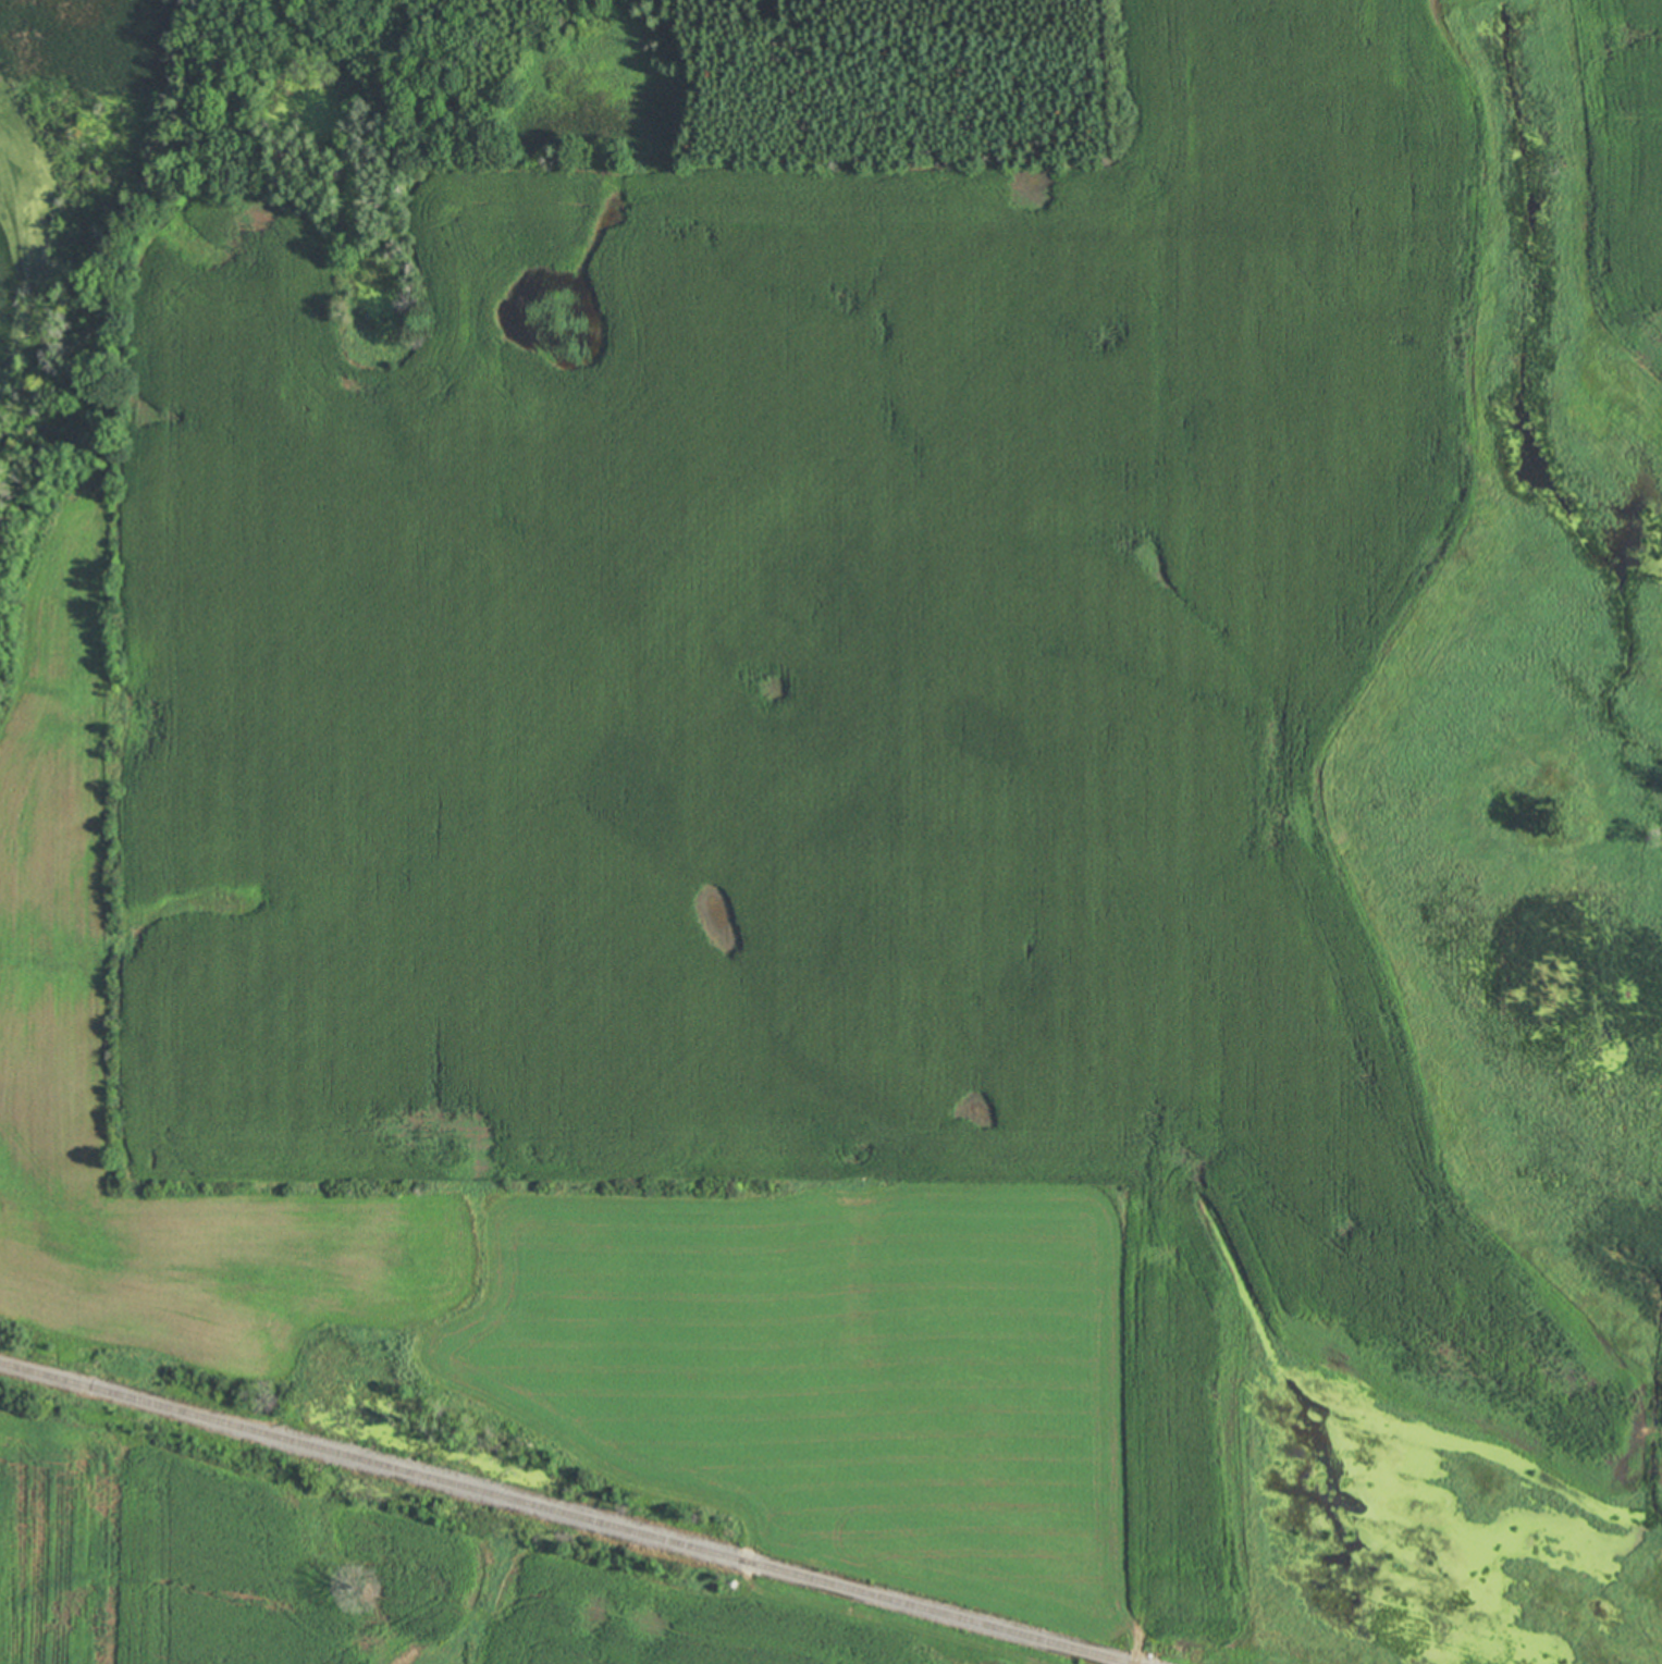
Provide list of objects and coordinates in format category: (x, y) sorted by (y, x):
railway: (565, 1513)
road: (1137, 1642)

